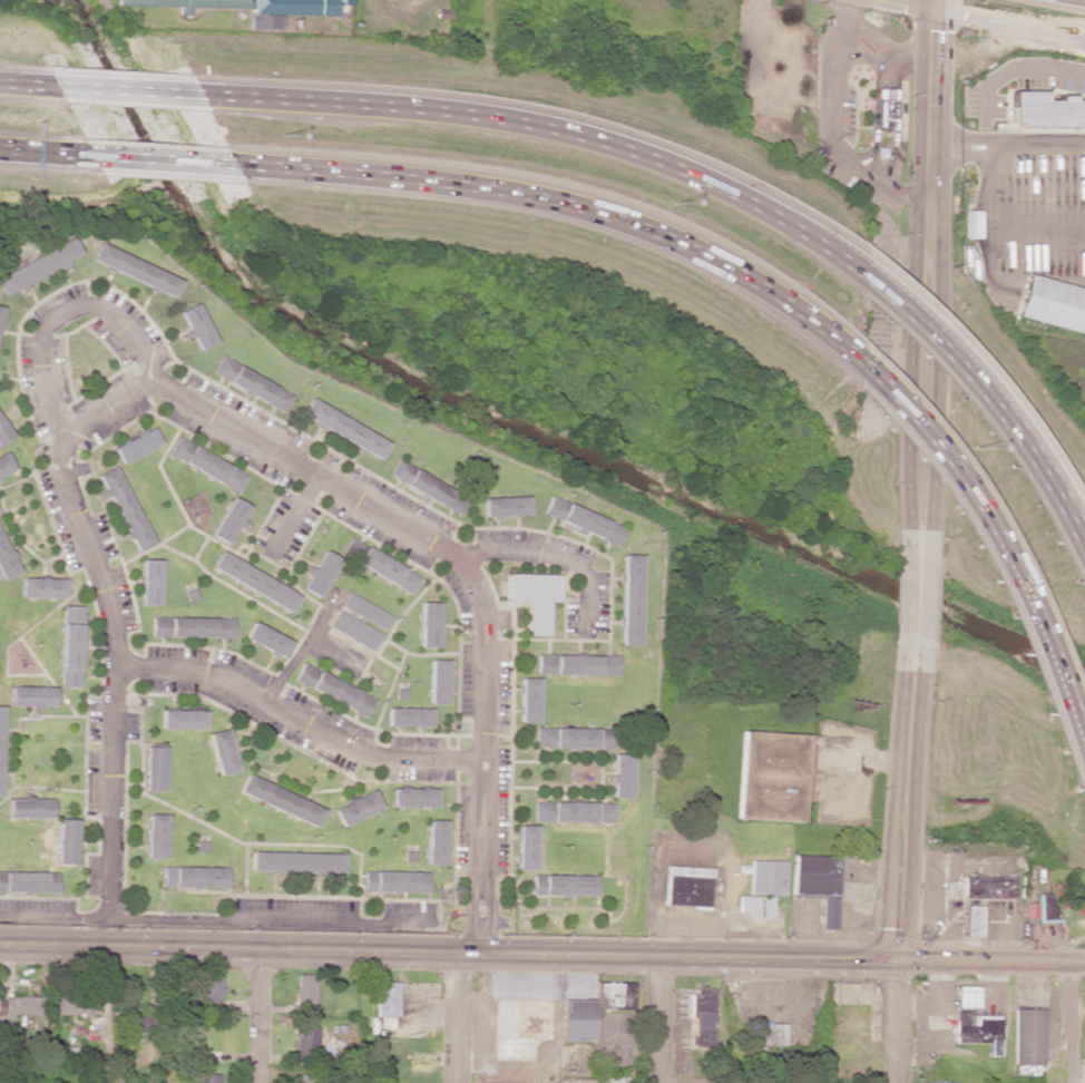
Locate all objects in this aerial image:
building: (253, 8)
road: (987, 18)
road: (28, 85)
road: (126, 91)
building: (882, 107)
building: (1044, 110)
road: (539, 130)
road: (43, 153)
road: (157, 160)
road: (559, 204)
building: (969, 224)
road: (927, 263)
building: (38, 265)
building: (134, 270)
building: (1052, 304)
building: (0, 309)
road: (61, 314)
building: (195, 326)
building: (251, 384)
road: (987, 396)
road: (212, 412)
river: (510, 418)
building: (343, 429)
building: (3, 432)
building: (136, 446)
building: (4, 465)
building: (206, 465)
building: (427, 487)
building: (504, 506)
building: (124, 509)
building: (229, 520)
building: (581, 520)
road: (996, 544)
road: (550, 558)
building: (6, 563)
building: (380, 565)
building: (320, 574)
building: (149, 582)
building: (254, 582)
building: (41, 588)
building: (534, 597)
building: (629, 599)
road: (918, 599)
building: (365, 611)
building: (429, 625)
building: (192, 627)
building: (354, 630)
building: (266, 640)
building: (70, 646)
building: (576, 664)
building: (438, 681)
building: (333, 690)
building: (31, 696)
building: (528, 700)
building: (408, 716)
building: (182, 719)
road: (297, 721)
building: (573, 738)
building: (0, 743)
building: (222, 752)
building: (154, 769)
building: (620, 775)
building: (773, 775)
building: (413, 798)
building: (280, 800)
building: (28, 808)
building: (355, 808)
building: (573, 811)
road: (906, 816)
building: (155, 836)
building: (65, 841)
building: (434, 842)
building: (525, 847)
building: (294, 861)
building: (193, 877)
building: (28, 881)
building: (394, 881)
building: (817, 882)
building: (564, 885)
building: (686, 887)
building: (988, 887)
building: (762, 888)
building: (971, 920)
road: (448, 952)
road: (990, 962)
building: (207, 989)
building: (304, 993)
building: (612, 995)
building: (384, 998)
building: (20, 1006)
building: (72, 1006)
road: (258, 1015)
building: (701, 1016)
road: (458, 1017)
building: (577, 1019)
road: (659, 1019)
road: (896, 1022)
building: (974, 1022)
road: (1071, 1023)
building: (135, 1024)
building: (519, 1025)
building: (765, 1034)
building: (1027, 1036)
building: (302, 1044)
building: (334, 1047)
building: (207, 1077)
building: (306, 1079)
building: (598, 1080)

